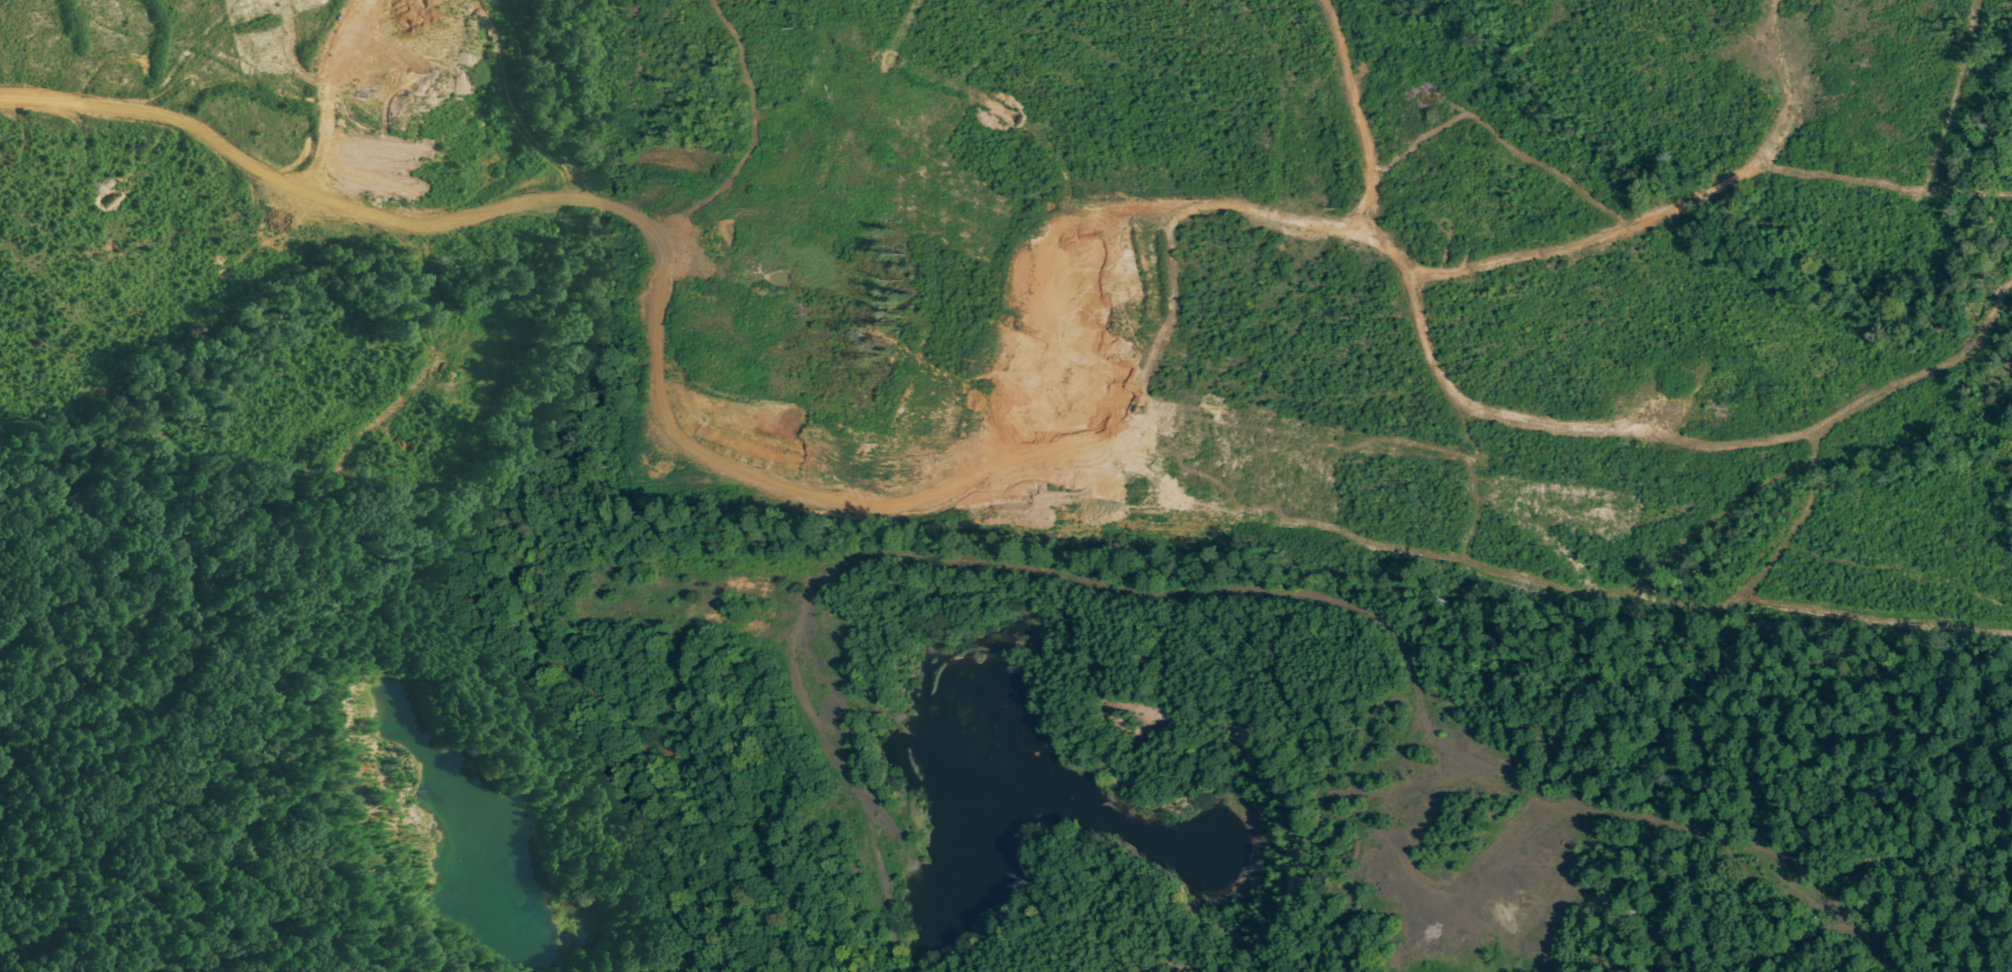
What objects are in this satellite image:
road: (1424, 623)

